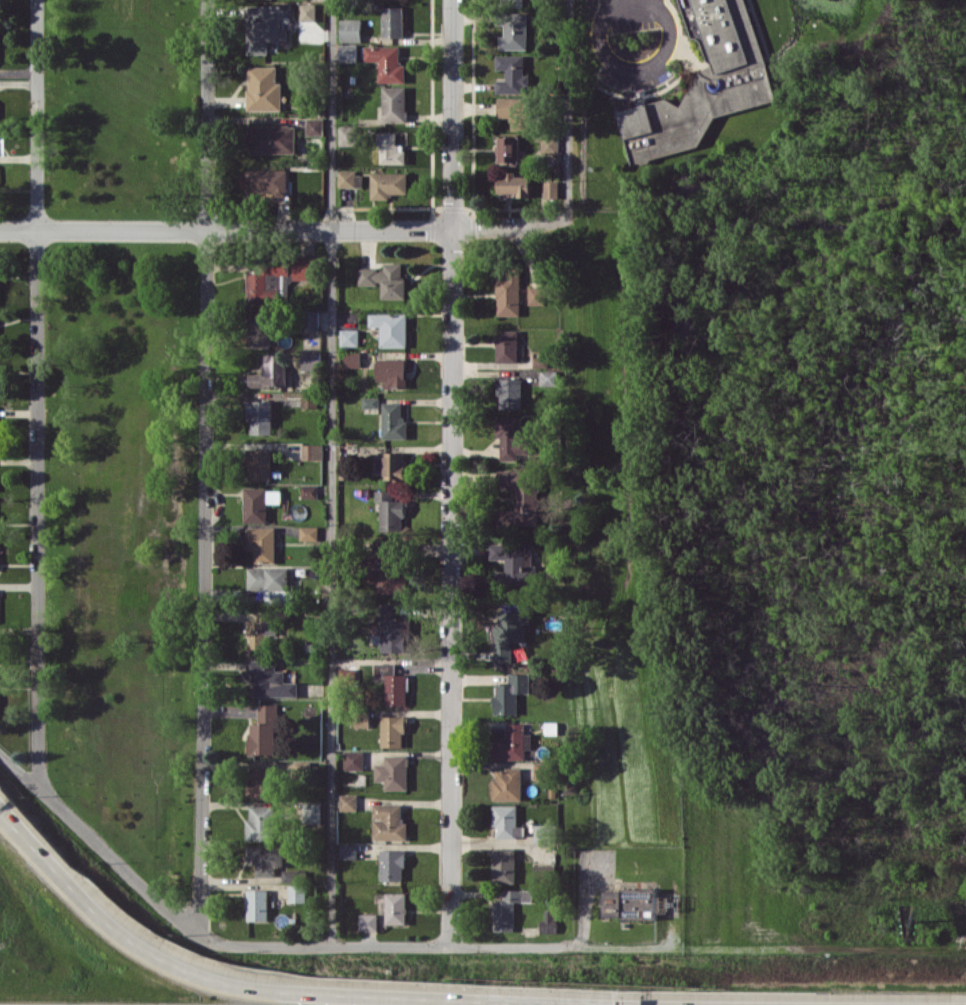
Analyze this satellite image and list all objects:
road: (618, 0)
building: (511, 1)
building: (309, 11)
parking lot: (634, 15)
building: (394, 21)
building: (264, 28)
building: (351, 29)
building: (515, 31)
road: (678, 31)
road: (760, 31)
building: (311, 32)
building: (722, 35)
building: (348, 52)
building: (388, 63)
road: (649, 64)
parking lot: (633, 72)
building: (512, 74)
building: (264, 88)
road: (659, 89)
road: (641, 97)
building: (395, 104)
road: (568, 107)
building: (517, 111)
building: (690, 113)
building: (315, 126)
building: (347, 135)
building: (272, 138)
building: (550, 145)
building: (391, 148)
building: (508, 149)
building: (350, 179)
building: (267, 182)
building: (388, 184)
building: (514, 184)
building: (551, 189)
road: (285, 228)
building: (386, 279)
building: (258, 291)
building: (509, 292)
building: (537, 295)
building: (311, 320)
building: (262, 328)
building: (390, 328)
building: (349, 337)
building: (507, 345)
building: (353, 359)
building: (311, 360)
building: (541, 361)
building: (271, 371)
building: (391, 372)
building: (549, 377)
road: (37, 393)
building: (510, 393)
building: (309, 399)
building: (370, 402)
building: (260, 416)
building: (394, 421)
park: (121, 425)
building: (511, 437)
building: (312, 451)
building: (259, 463)
building: (391, 465)
road: (206, 467)
road: (331, 473)
road: (451, 473)
building: (309, 490)
building: (520, 498)
building: (259, 503)
building: (391, 511)
building: (309, 533)
building: (262, 543)
building: (516, 565)
building: (390, 566)
building: (268, 580)
building: (394, 629)
building: (262, 630)
building: (510, 632)
building: (270, 679)
building: (393, 683)
building: (510, 693)
building: (362, 721)
building: (263, 730)
building: (393, 731)
building: (513, 743)
building: (354, 760)
building: (540, 771)
building: (393, 772)
building: (263, 782)
building: (507, 784)
building: (348, 802)
building: (313, 812)
road: (8, 819)
building: (506, 821)
building: (389, 822)
building: (261, 823)
road: (8, 824)
building: (543, 832)
building: (348, 851)
building: (266, 858)
building: (392, 864)
building: (503, 864)
building: (543, 868)
building: (291, 875)
building: (297, 893)
building: (630, 903)
building: (257, 904)
building: (395, 908)
building: (508, 908)
building: (368, 921)
building: (548, 922)
road: (302, 947)
road: (736, 948)
road: (274, 990)

